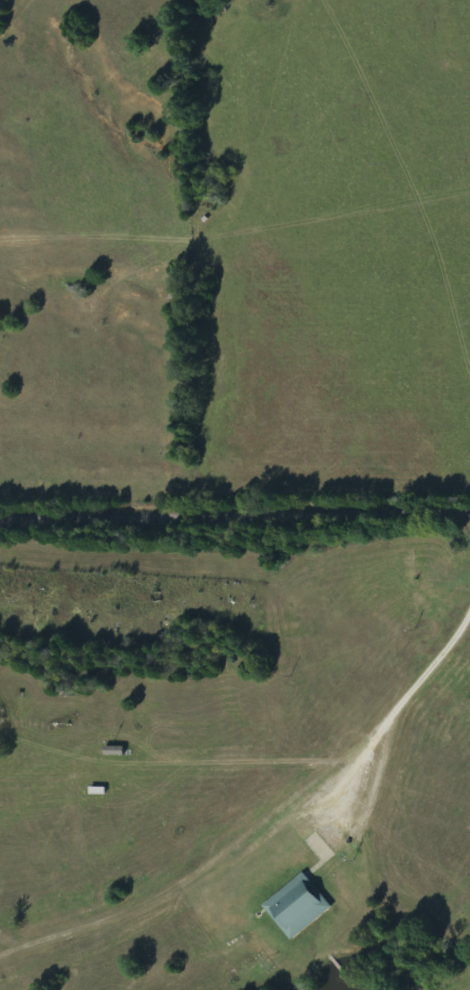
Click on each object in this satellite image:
road: (235, 509)
building: (301, 908)

